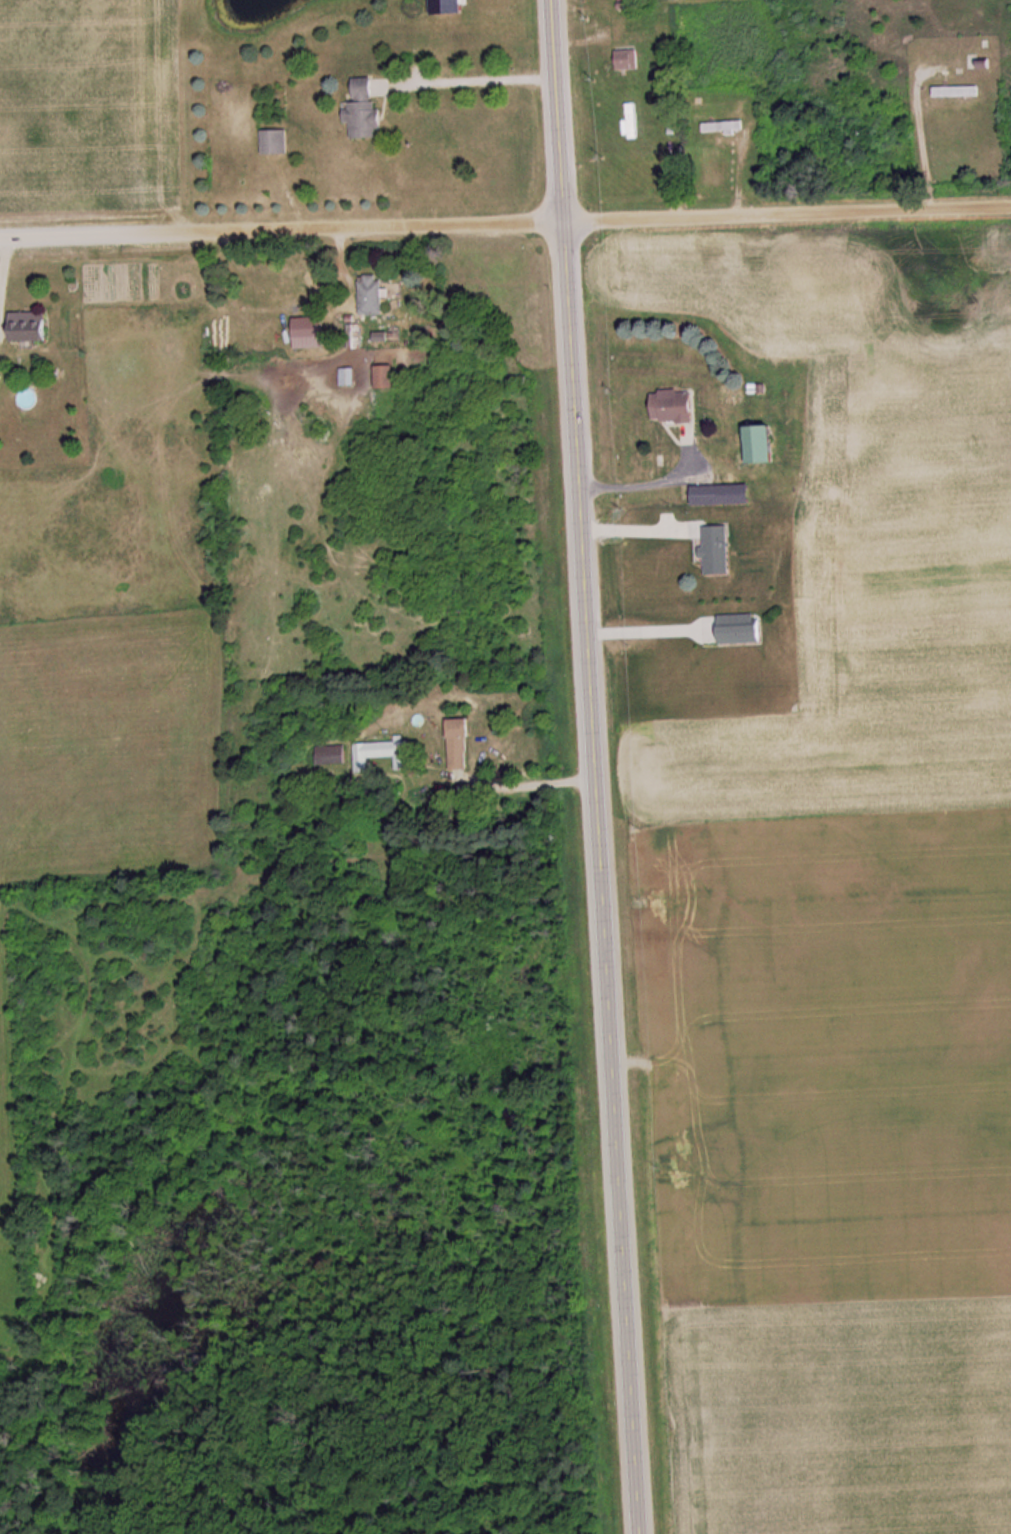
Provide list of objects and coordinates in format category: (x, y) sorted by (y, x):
building: (631, 59)
building: (958, 91)
building: (367, 110)
building: (632, 121)
building: (724, 127)
building: (276, 141)
road: (787, 213)
road: (282, 229)
building: (375, 295)
building: (31, 327)
building: (314, 332)
building: (357, 336)
building: (350, 376)
building: (389, 376)
building: (679, 406)
building: (769, 444)
building: (725, 495)
building: (718, 551)
building: (463, 744)
building: (382, 754)
building: (330, 756)
road: (594, 767)

